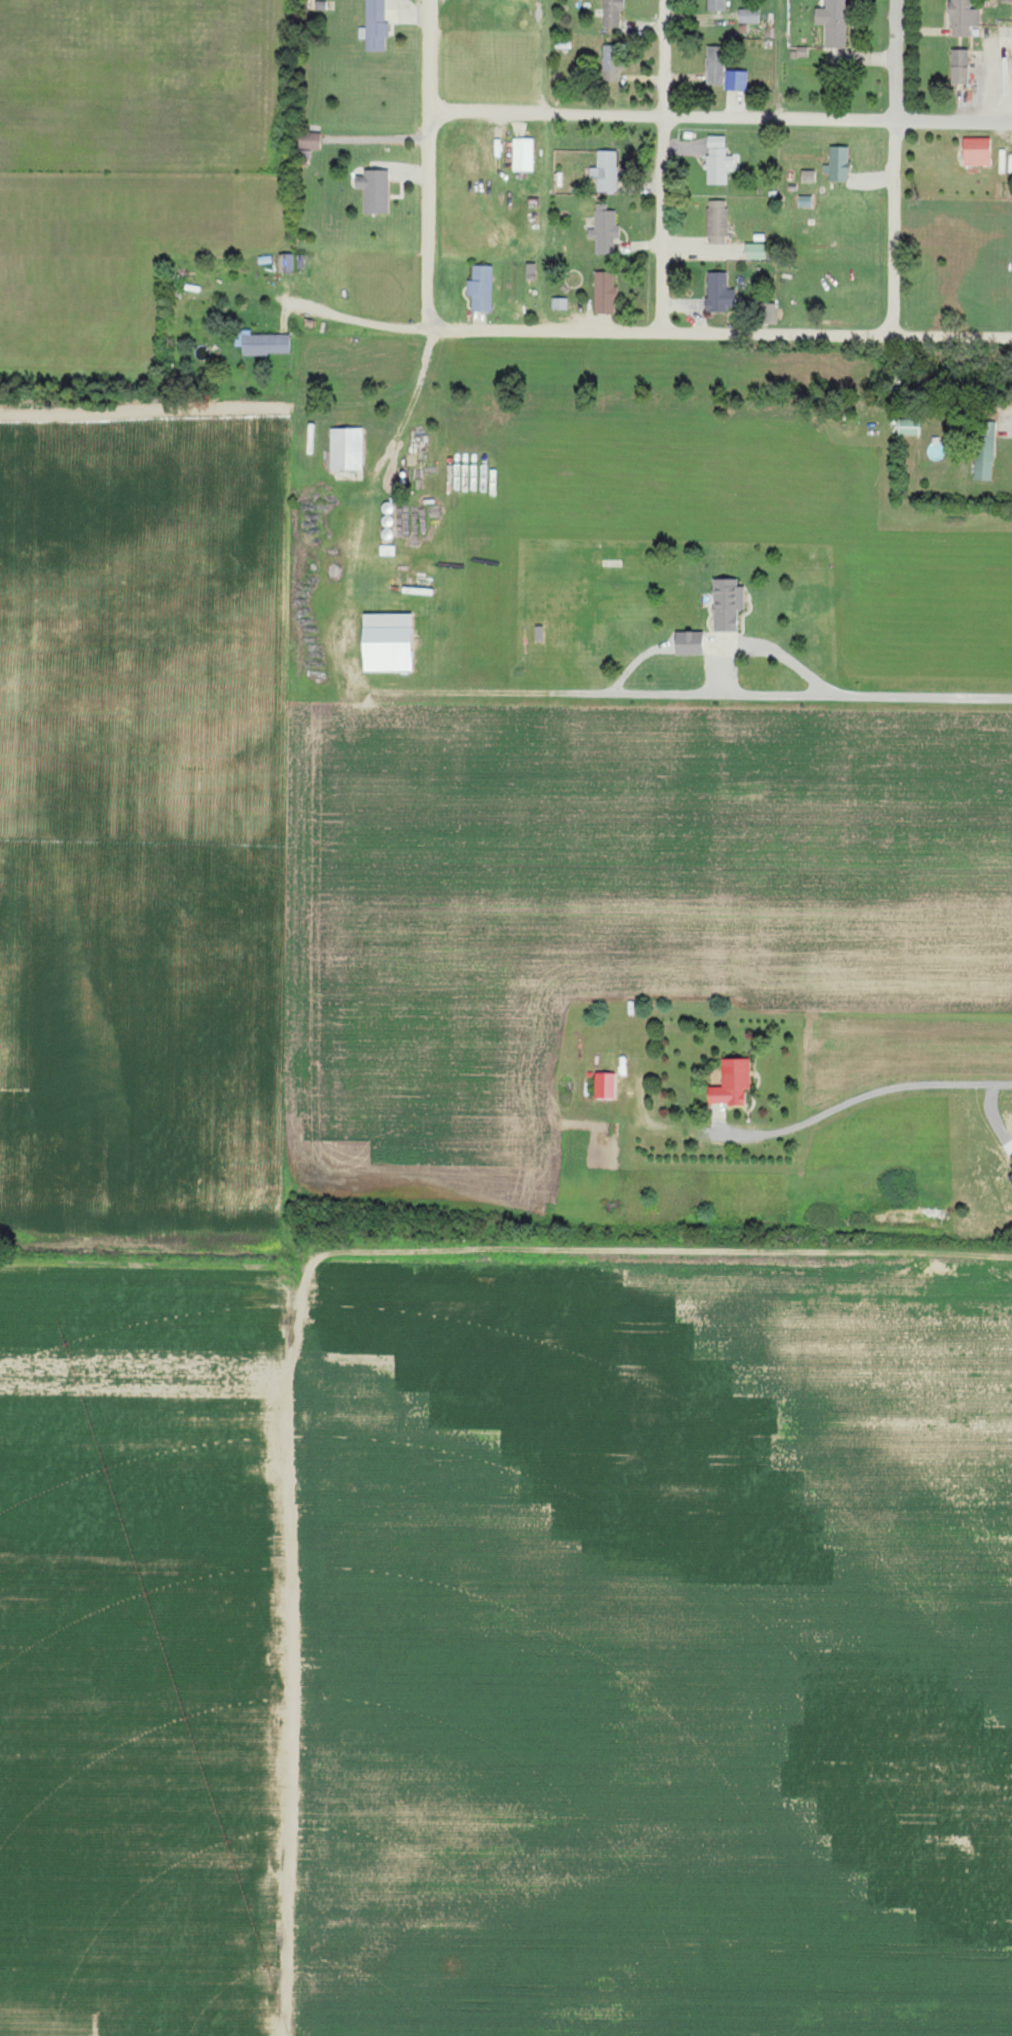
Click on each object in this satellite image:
building: (1006, 0)
building: (716, 5)
building: (612, 13)
building: (748, 16)
building: (962, 17)
building: (833, 22)
building: (374, 26)
building: (610, 64)
building: (715, 65)
building: (959, 66)
building: (736, 80)
road: (720, 117)
building: (309, 140)
building: (976, 151)
building: (523, 155)
building: (718, 160)
building: (837, 164)
road: (429, 165)
road: (664, 166)
road: (896, 167)
building: (606, 171)
building: (808, 176)
building: (374, 191)
building: (805, 201)
building: (716, 222)
building: (604, 229)
building: (755, 251)
building: (285, 263)
building: (481, 289)
building: (605, 293)
building: (718, 293)
building: (559, 303)
building: (767, 313)
road: (638, 333)
building: (262, 343)
road: (506, 425)
building: (908, 427)
building: (346, 449)
building: (985, 451)
building: (388, 528)
road: (282, 547)
road: (858, 599)
building: (727, 605)
building: (386, 643)
building: (688, 644)
building: (731, 1082)
building: (605, 1085)
road: (808, 1124)
road: (308, 1296)

